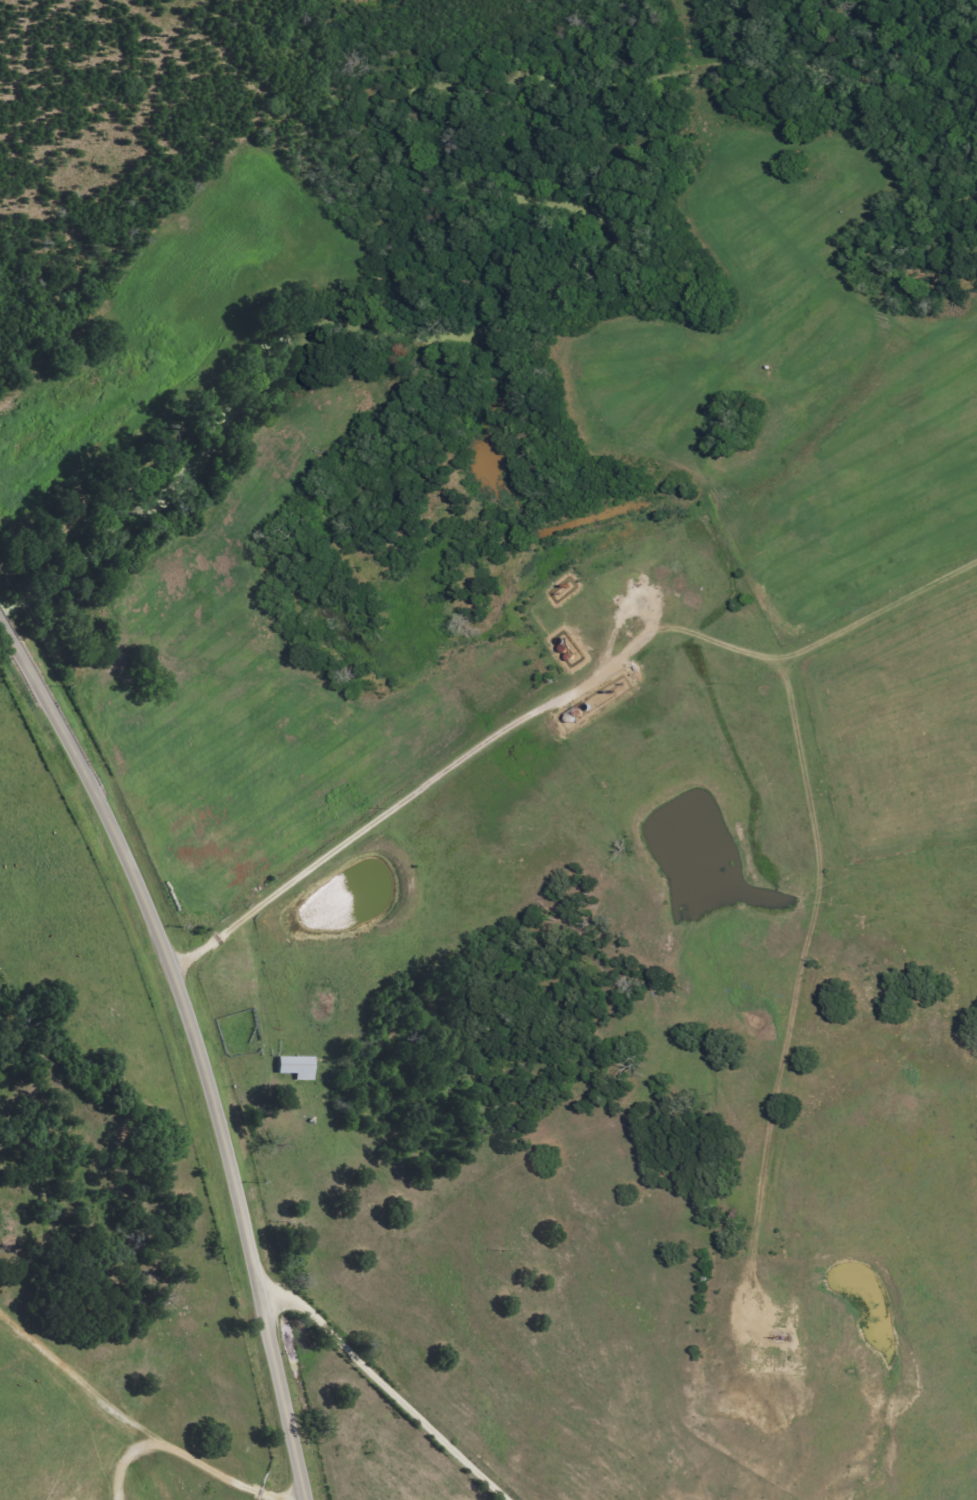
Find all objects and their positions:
road: (198, 1044)
building: (295, 1066)
road: (698, 1234)
road: (386, 1387)

